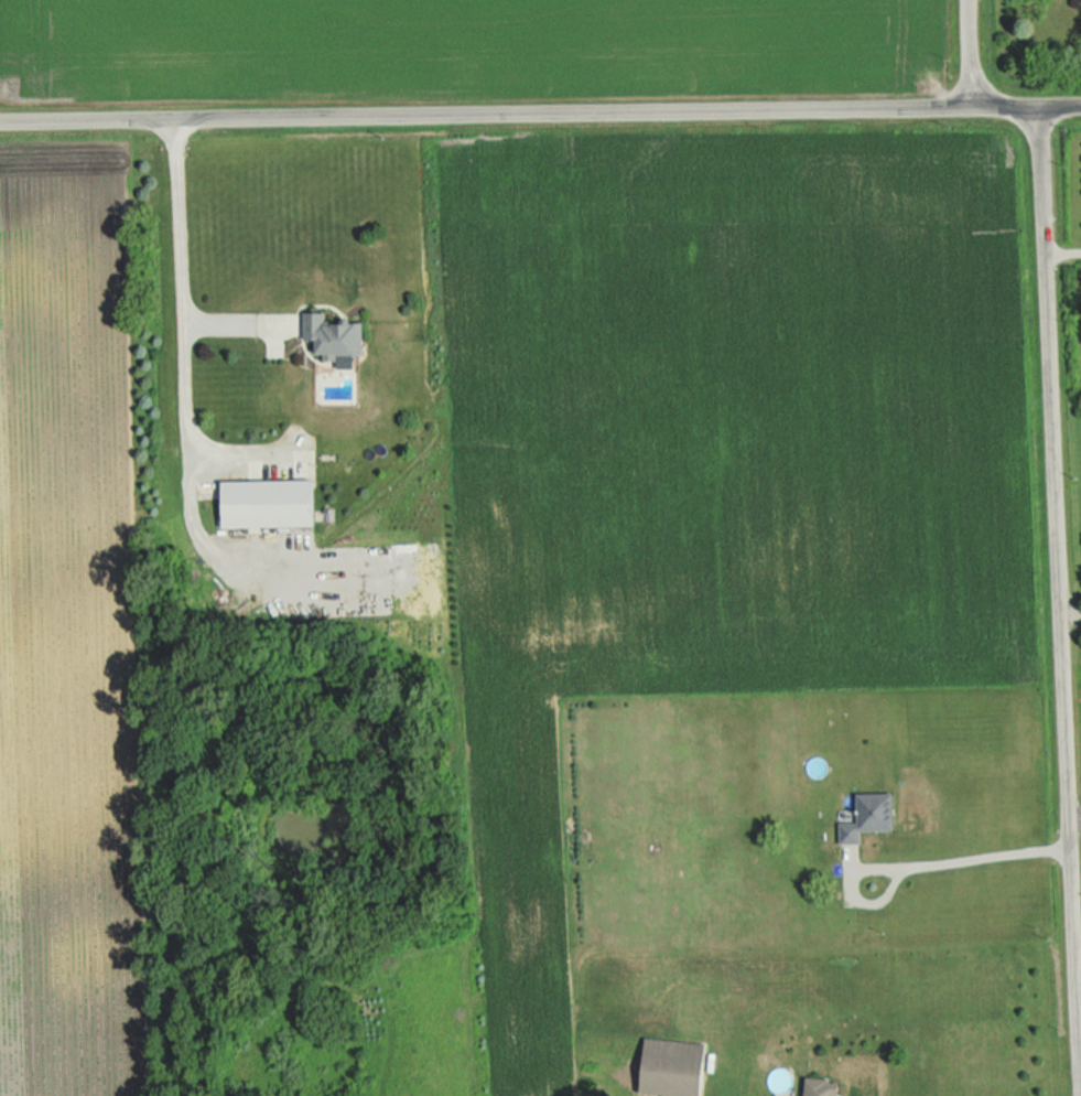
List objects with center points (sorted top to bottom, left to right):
road: (973, 53)
road: (540, 112)
road: (1062, 248)
road: (234, 319)
building: (325, 336)
road: (179, 408)
road: (239, 454)
building: (256, 504)
road: (1059, 567)
road: (1071, 609)
road: (1075, 812)
building: (858, 818)
road: (917, 859)
building: (662, 1066)
building: (810, 1087)

